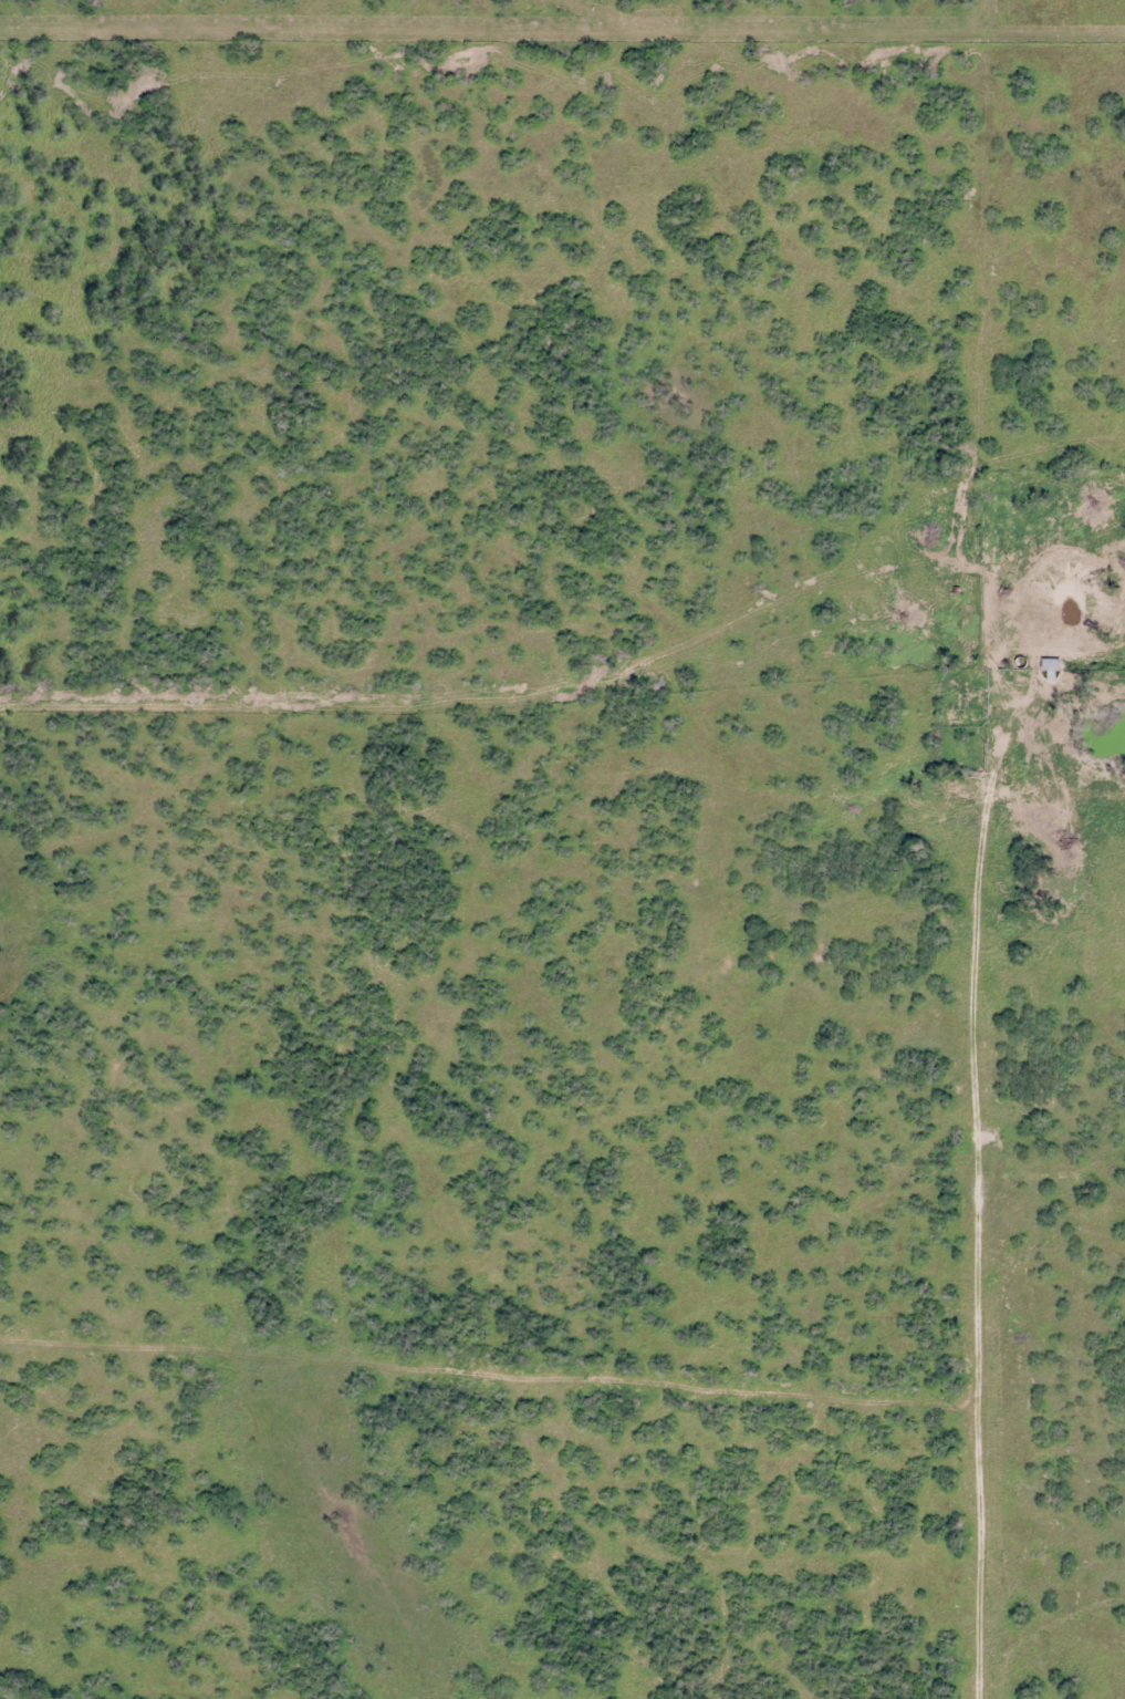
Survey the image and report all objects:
building: (1049, 672)
road: (945, 1270)

